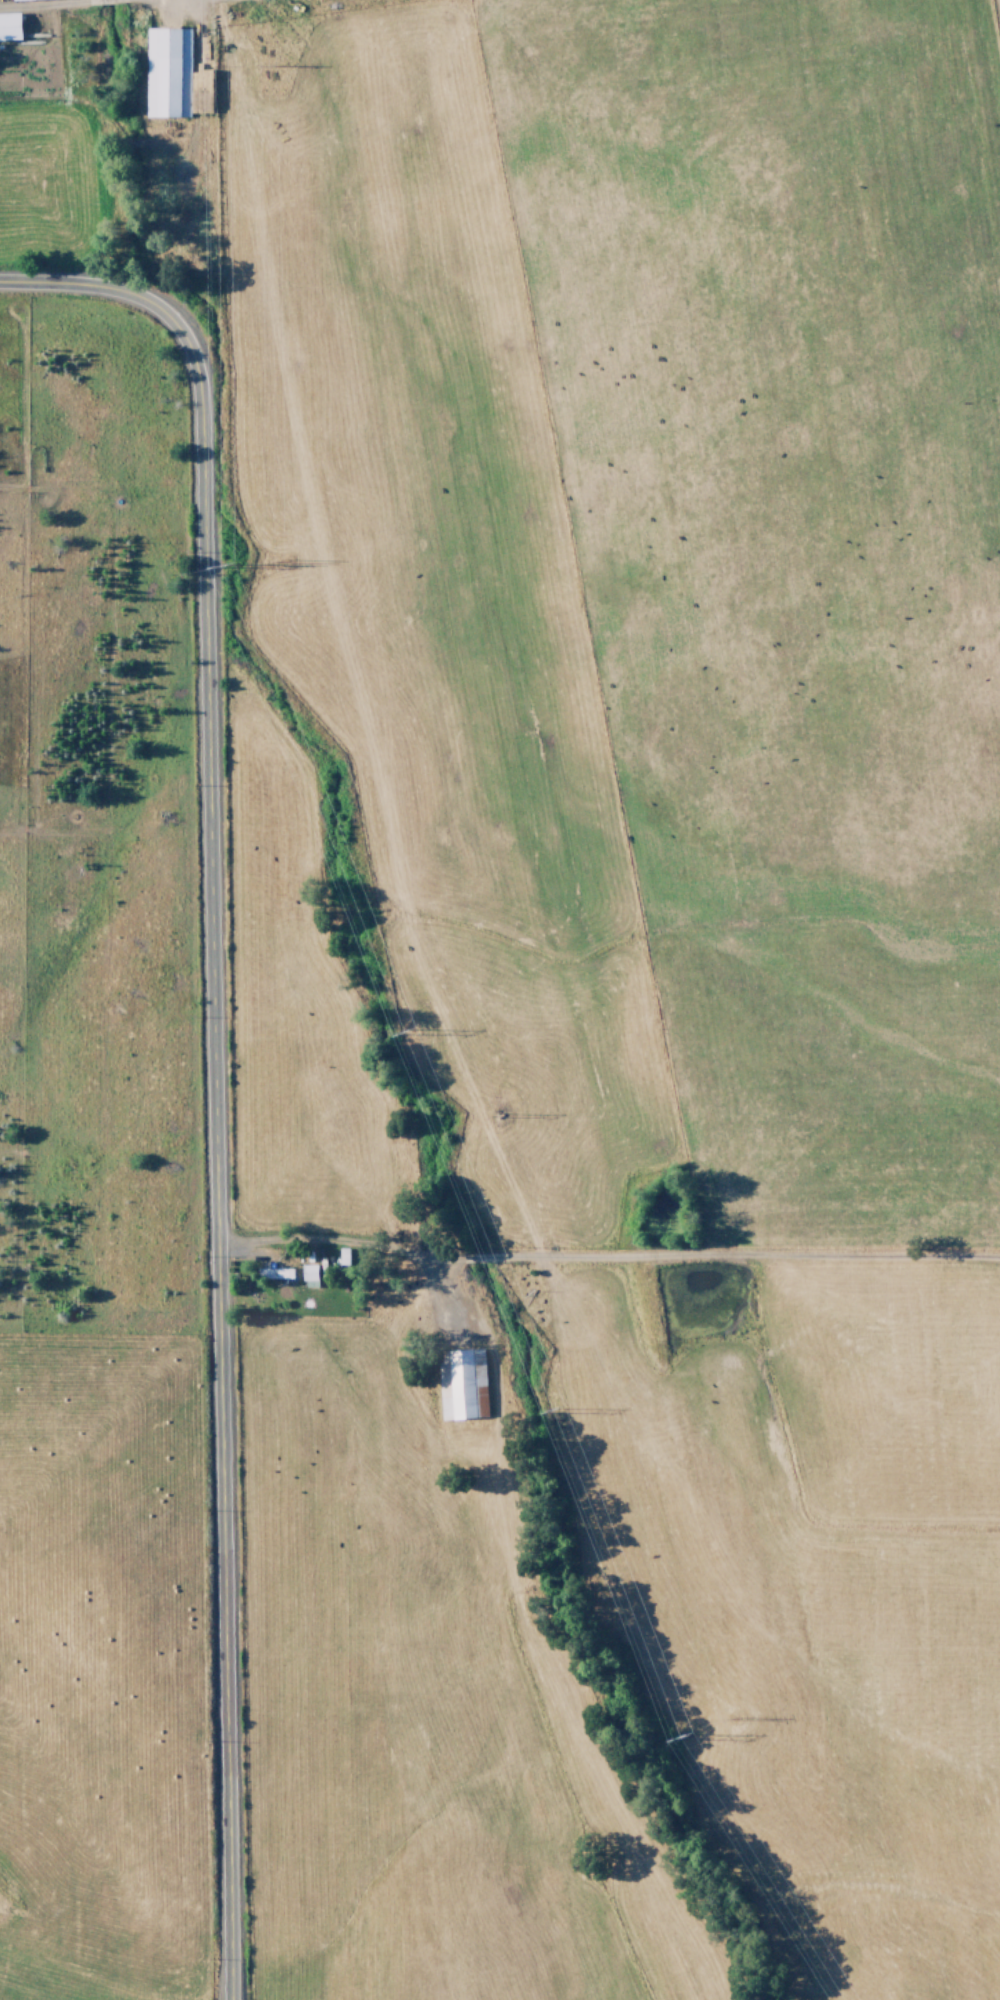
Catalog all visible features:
building: (9, 26)
building: (166, 72)
power tower: (225, 567)
power tower: (410, 1037)
road: (209, 1065)
building: (273, 1273)
building: (308, 1276)
power tower: (552, 1413)
power tower: (677, 1738)

